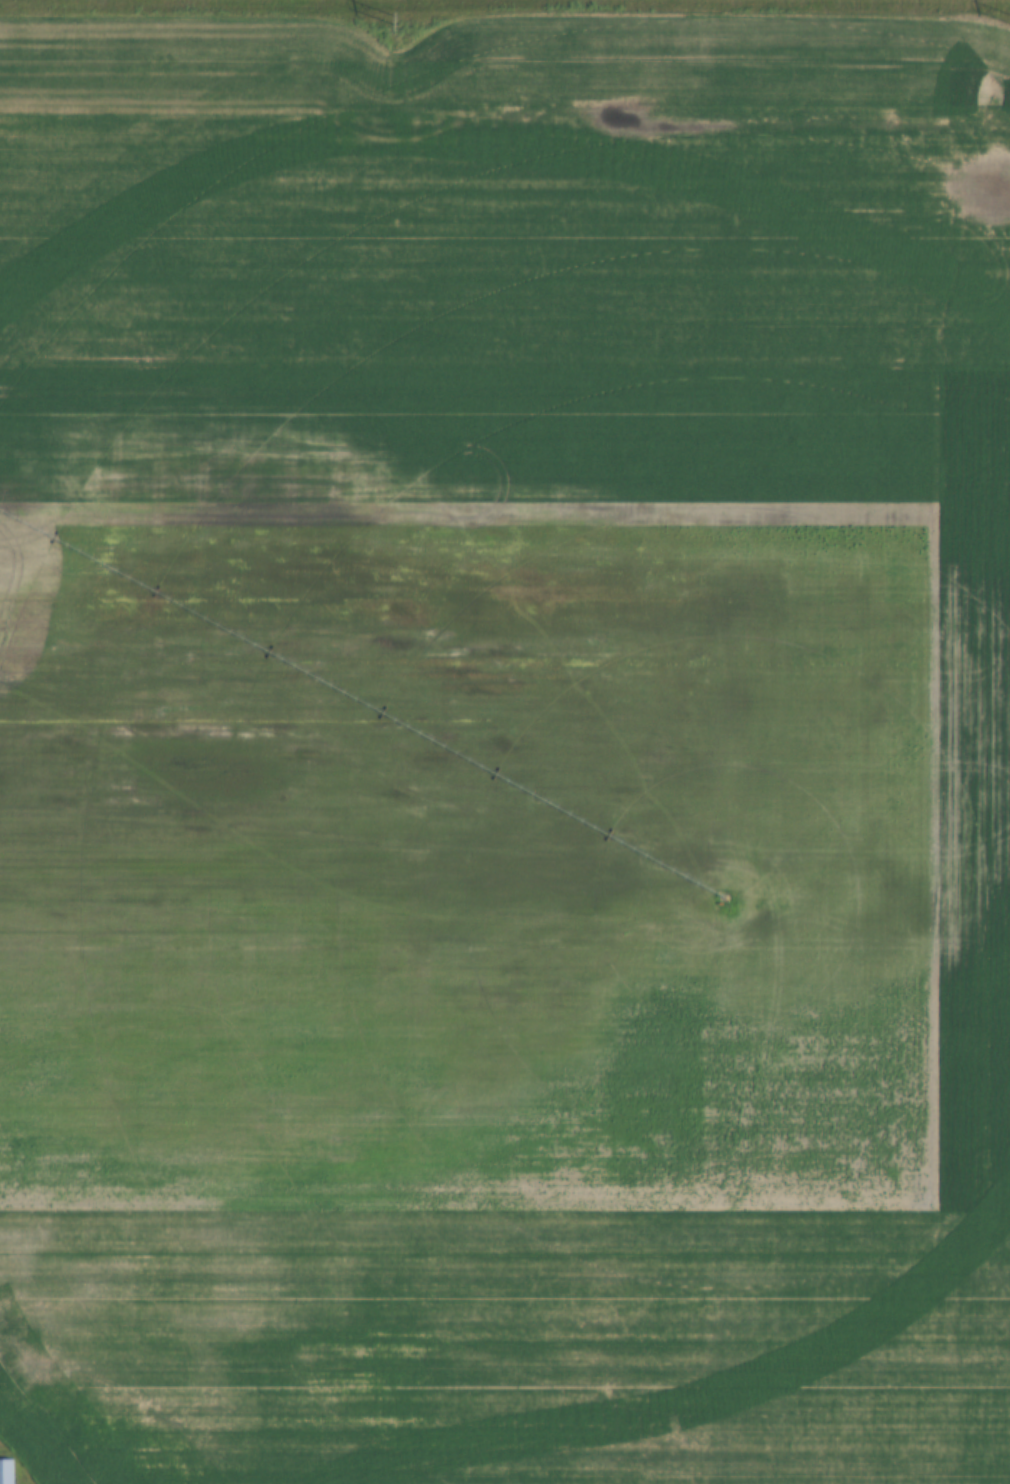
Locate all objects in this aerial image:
building: (8, 1472)

